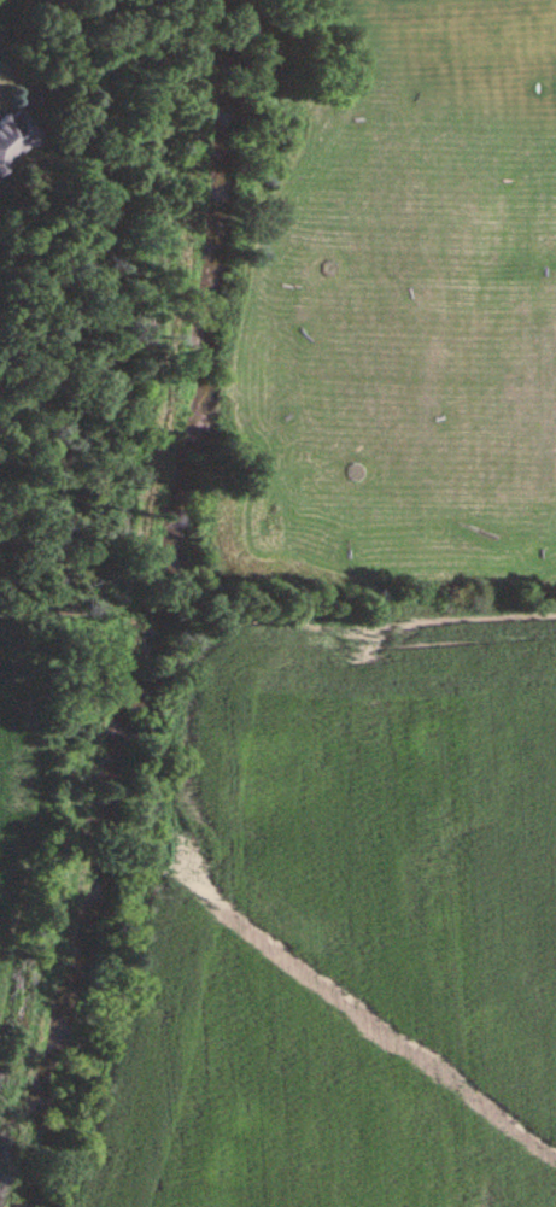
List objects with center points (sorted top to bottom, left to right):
building: (11, 131)

